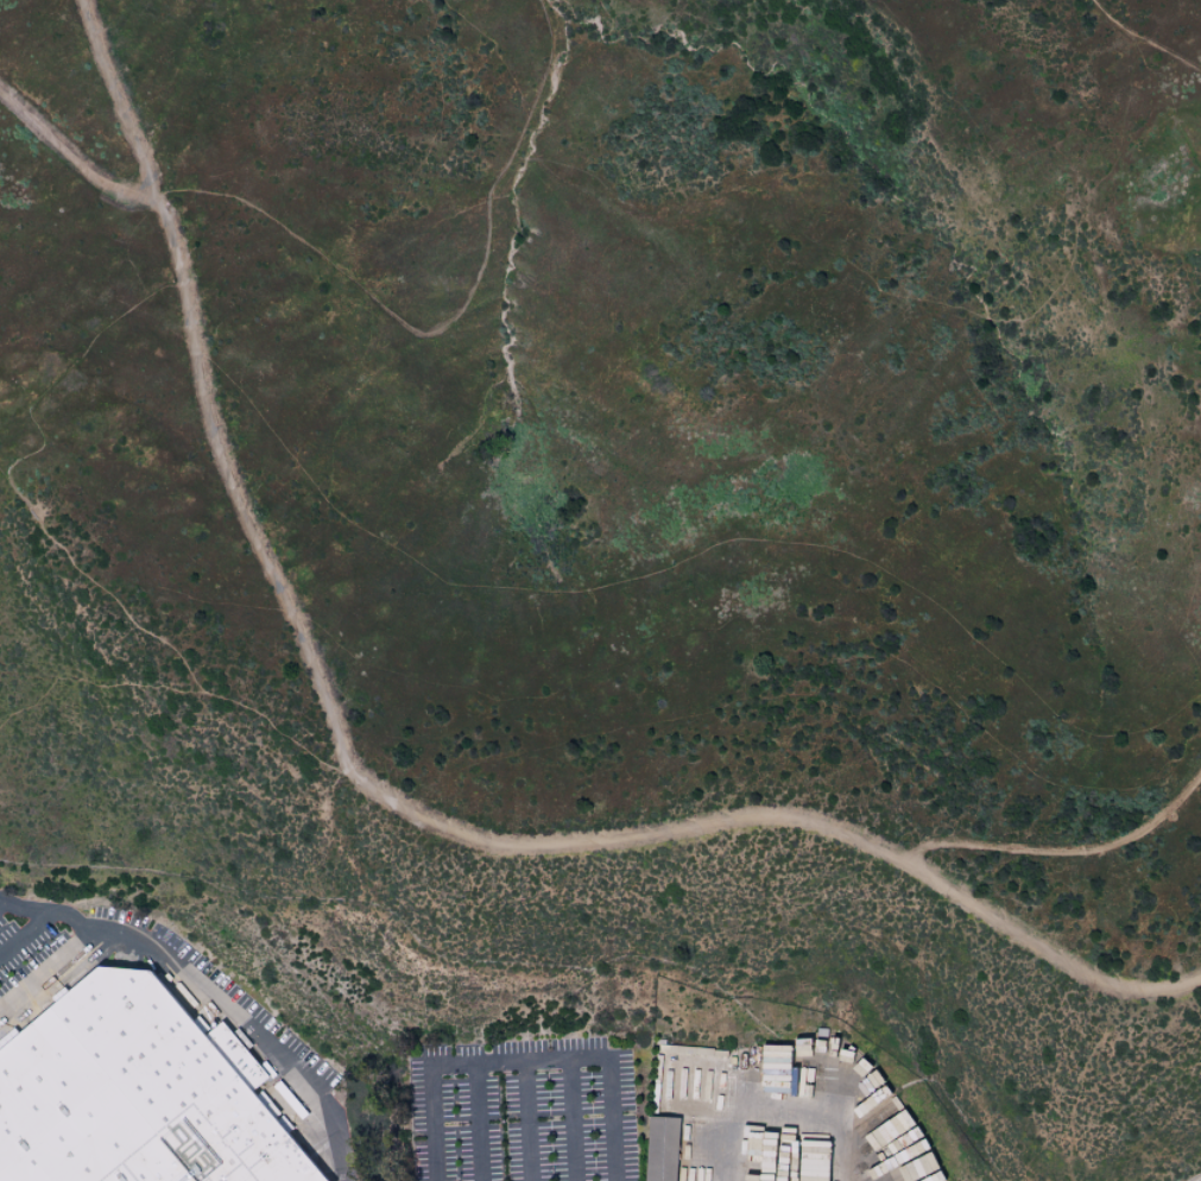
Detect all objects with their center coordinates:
road: (1142, 40)
road: (112, 97)
road: (449, 318)
road: (682, 561)
road: (396, 801)
road: (1066, 850)
road: (25, 930)
road: (99, 942)
road: (255, 1034)
road: (523, 1060)
building: (868, 1085)
building: (137, 1094)
building: (889, 1101)
road: (523, 1120)
road: (571, 1120)
road: (475, 1122)
building: (899, 1124)
building: (658, 1149)
building: (877, 1156)
building: (905, 1167)

